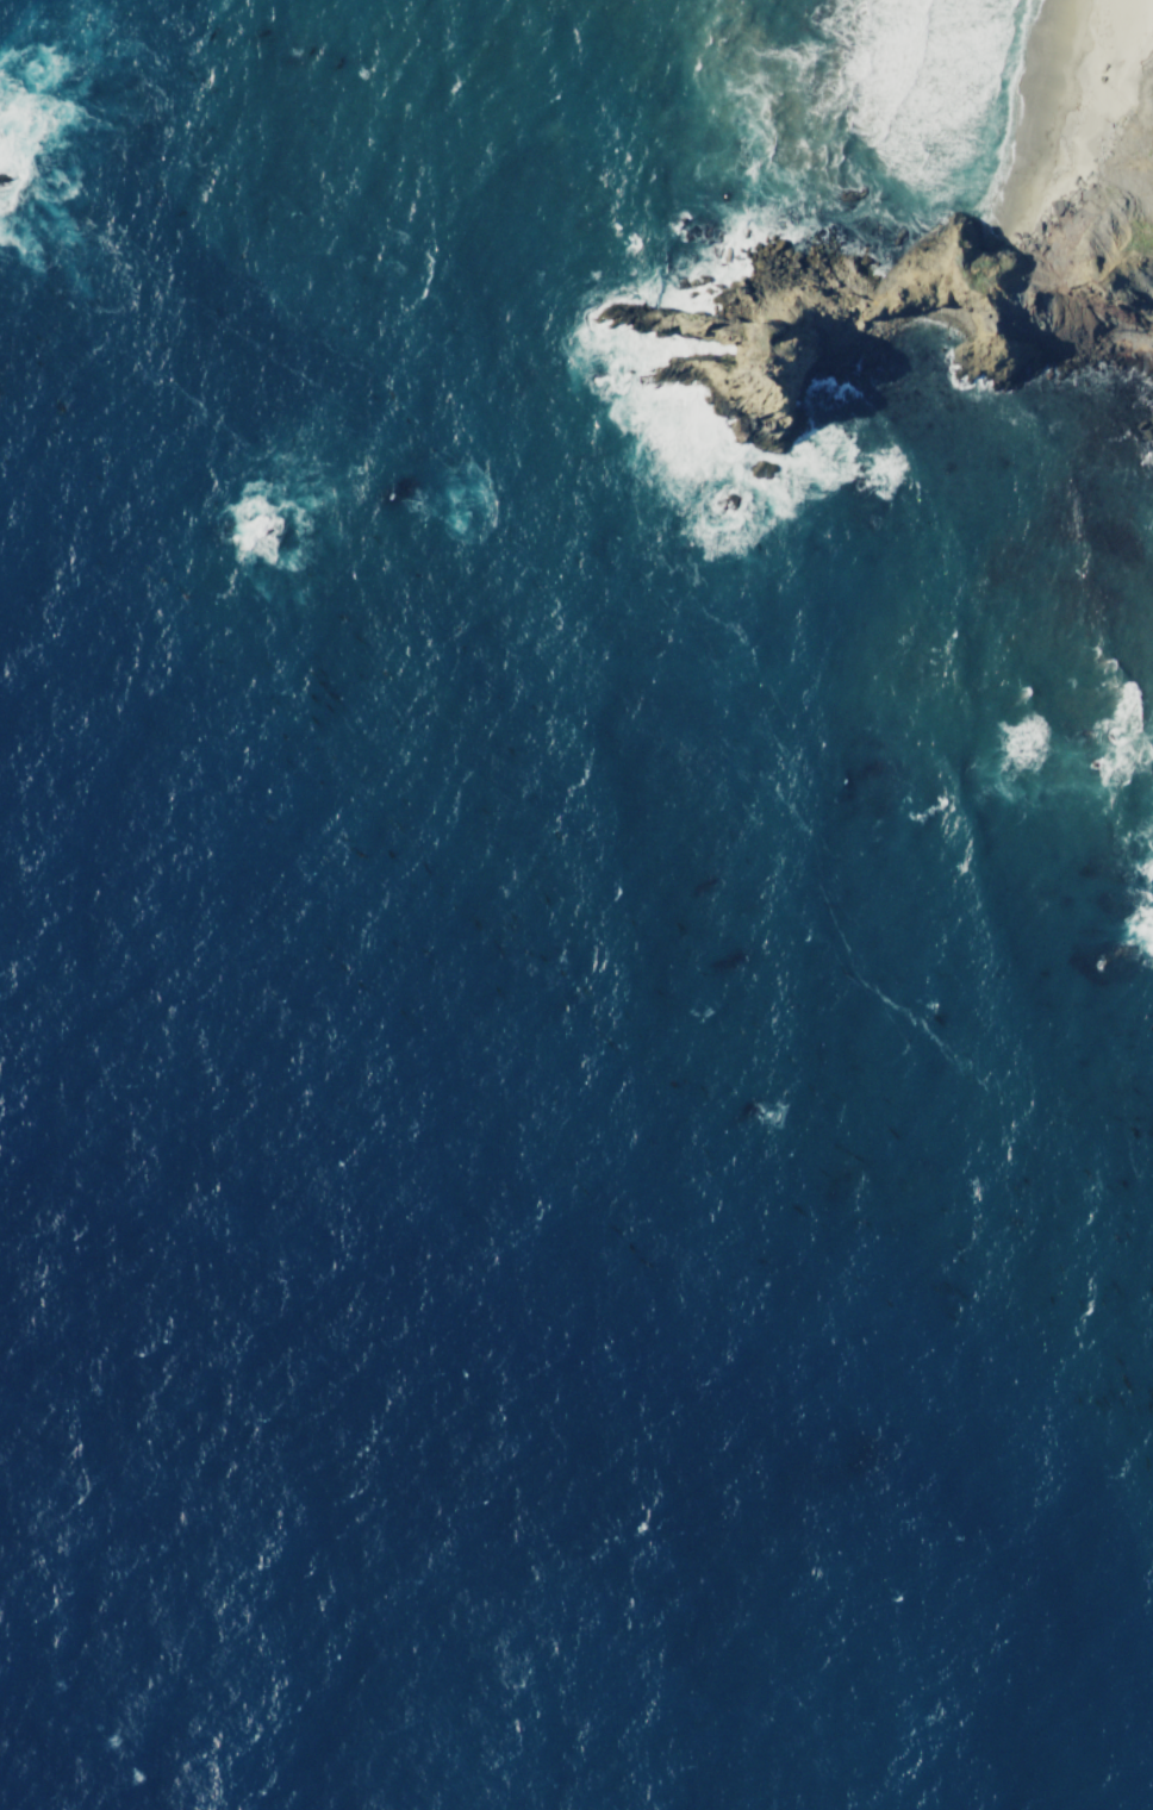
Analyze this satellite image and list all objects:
park: (1040, 88)
park: (1026, 207)

